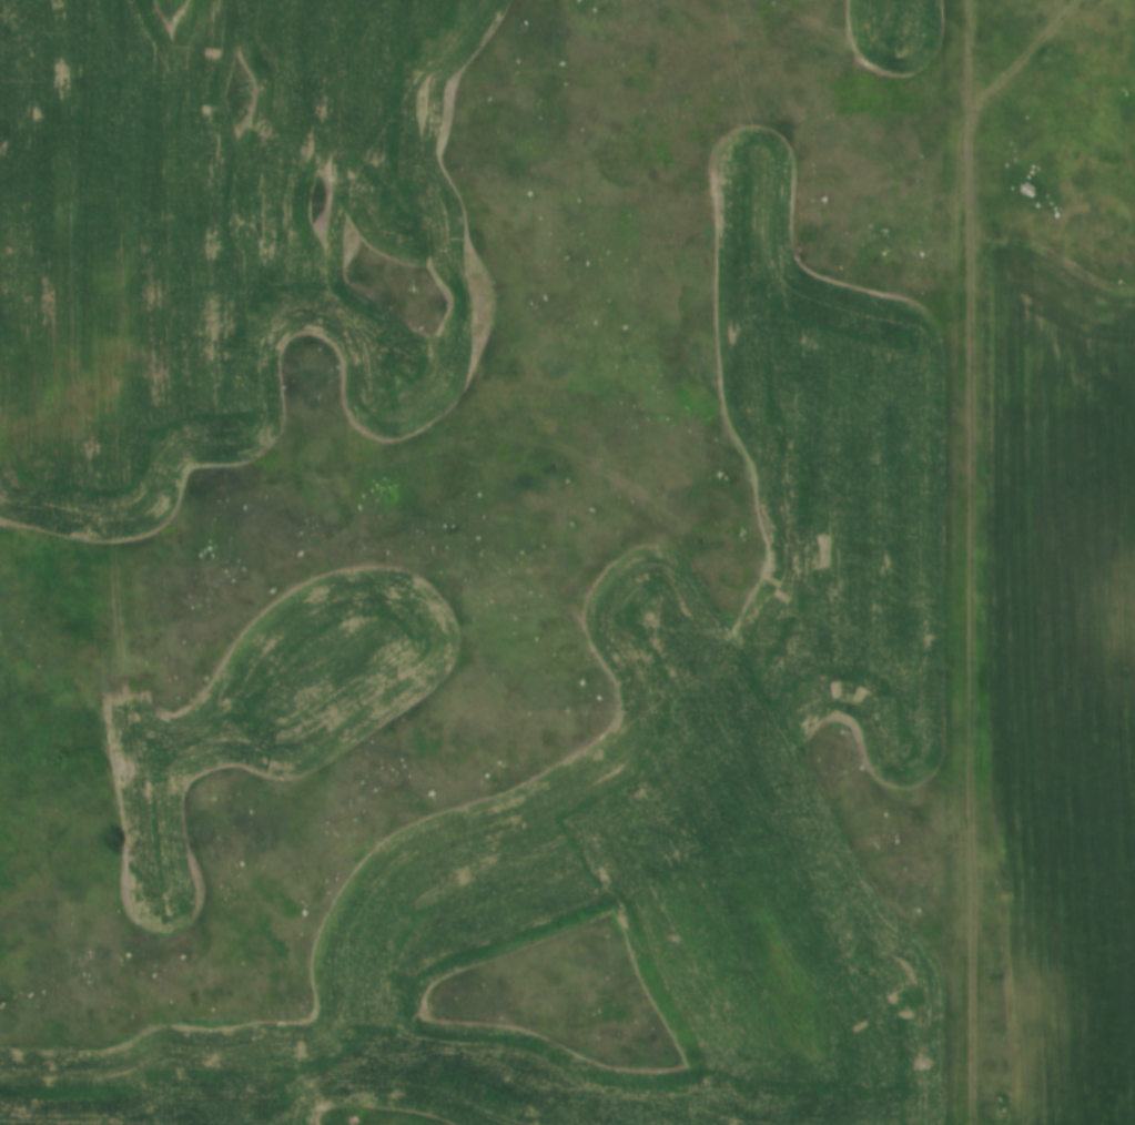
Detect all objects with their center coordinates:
road: (956, 562)

